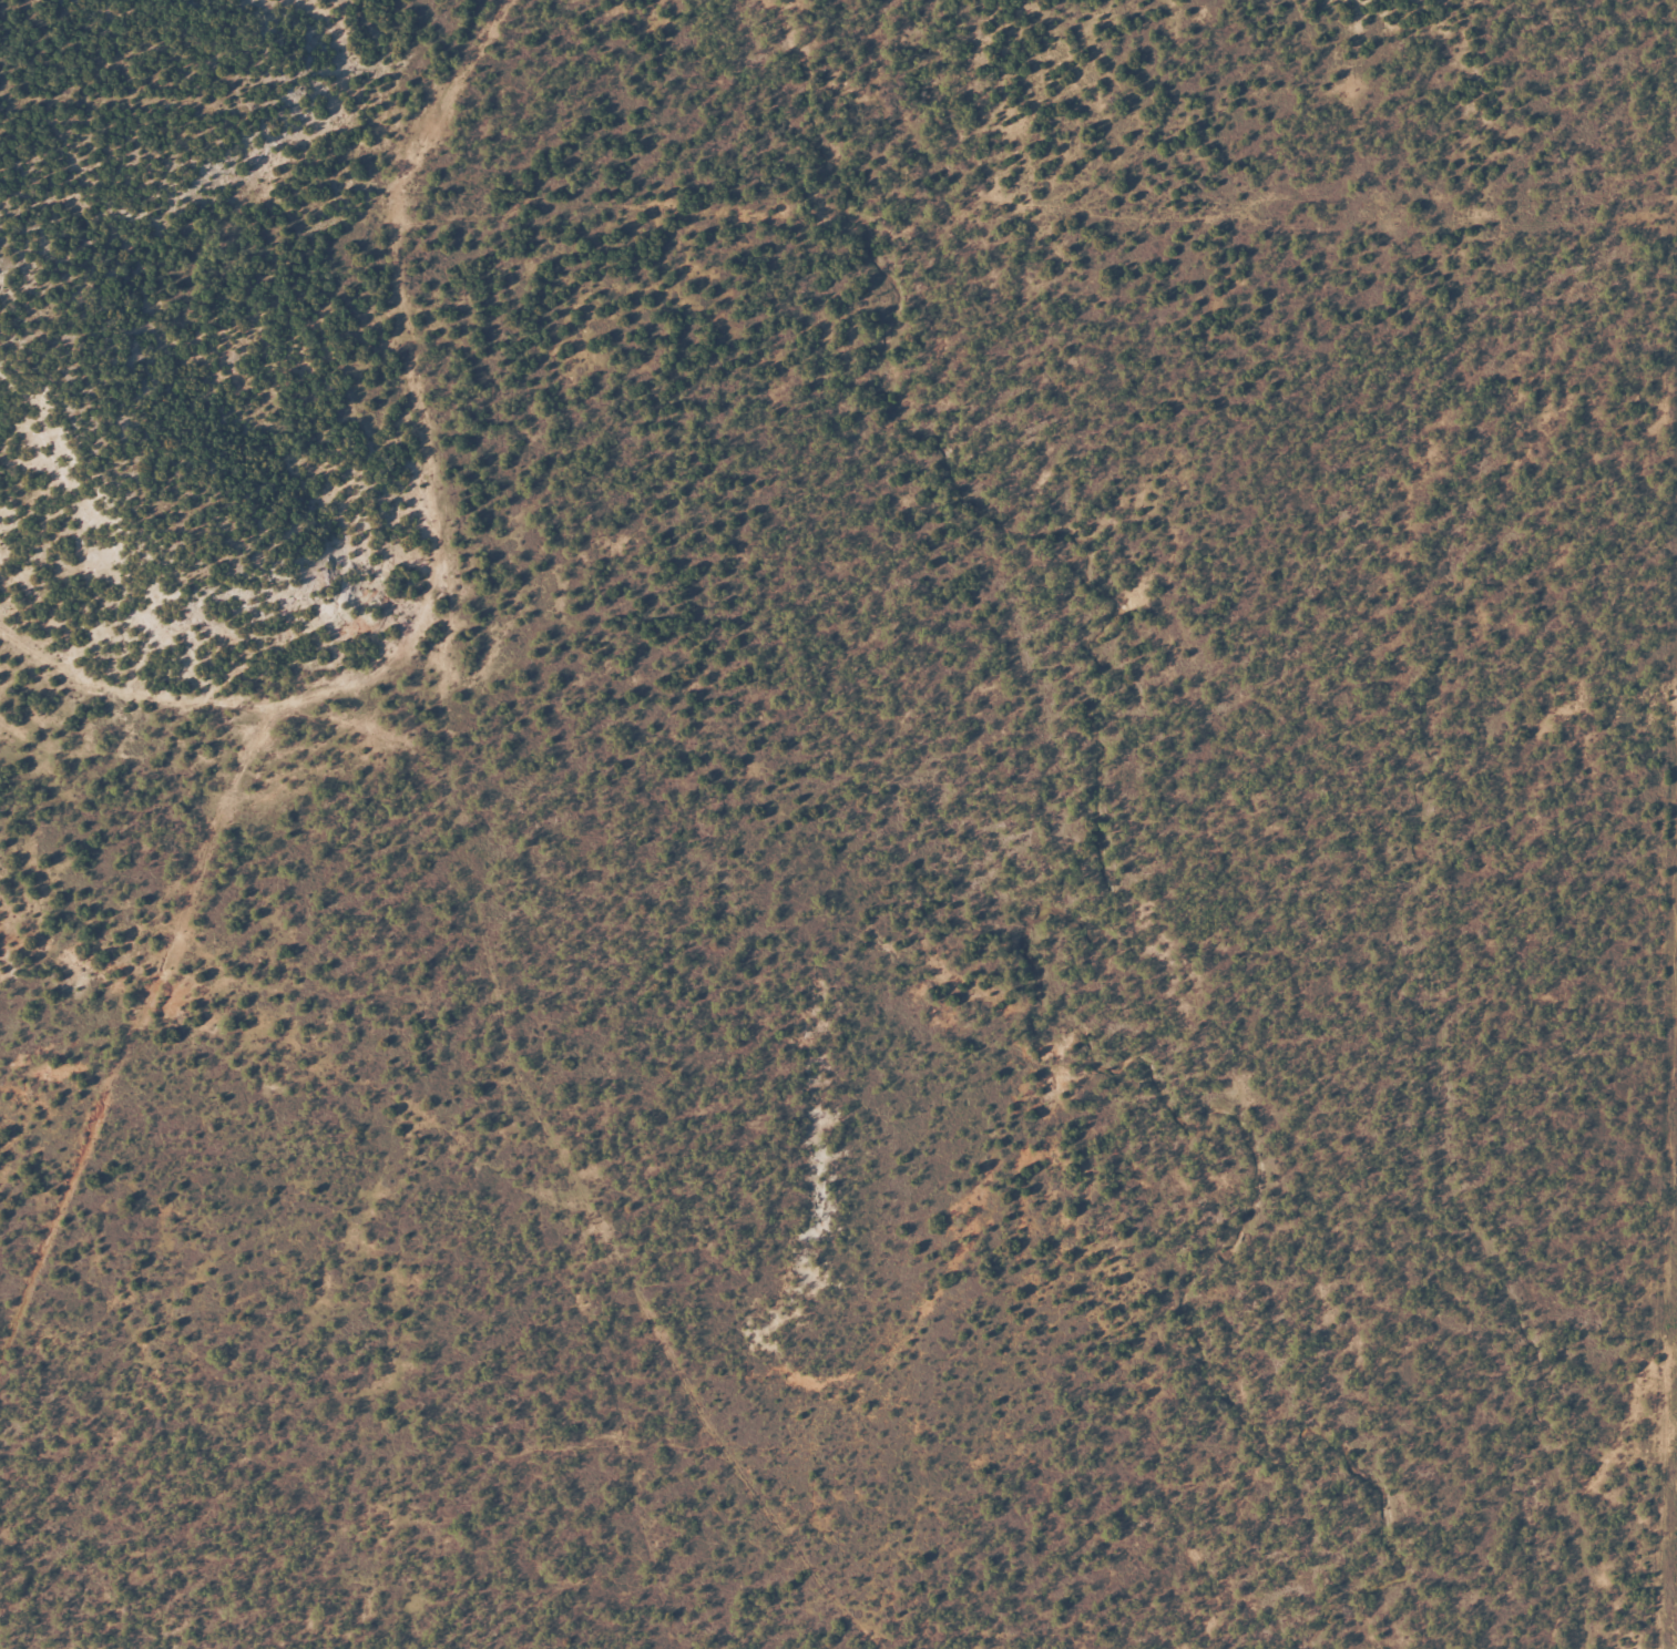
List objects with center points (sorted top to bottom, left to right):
road: (219, 706)
road: (500, 867)

